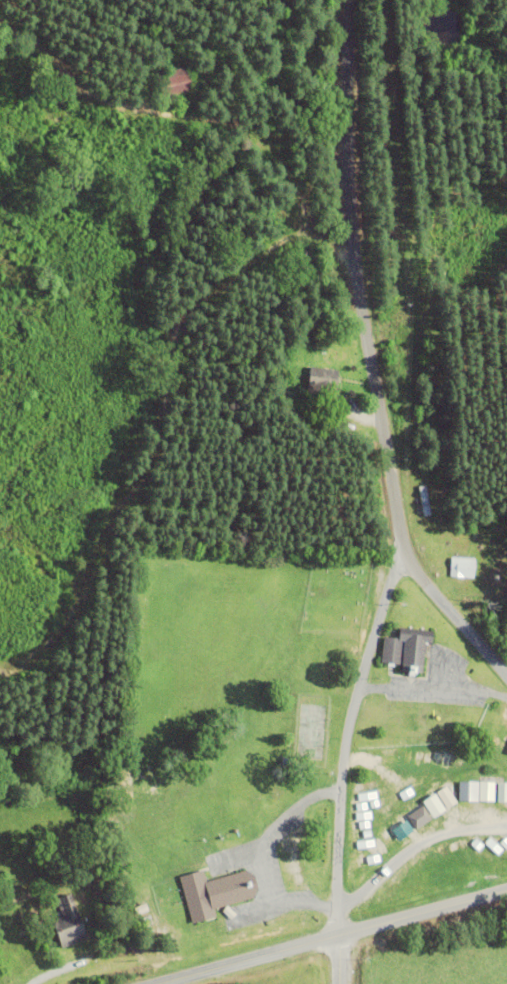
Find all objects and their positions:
building: (176, 82)
building: (322, 386)
road: (395, 495)
road: (453, 612)
building: (405, 650)
building: (483, 788)
building: (432, 805)
building: (403, 828)
road: (414, 846)
building: (365, 861)
building: (215, 892)
building: (69, 922)
road: (326, 936)

